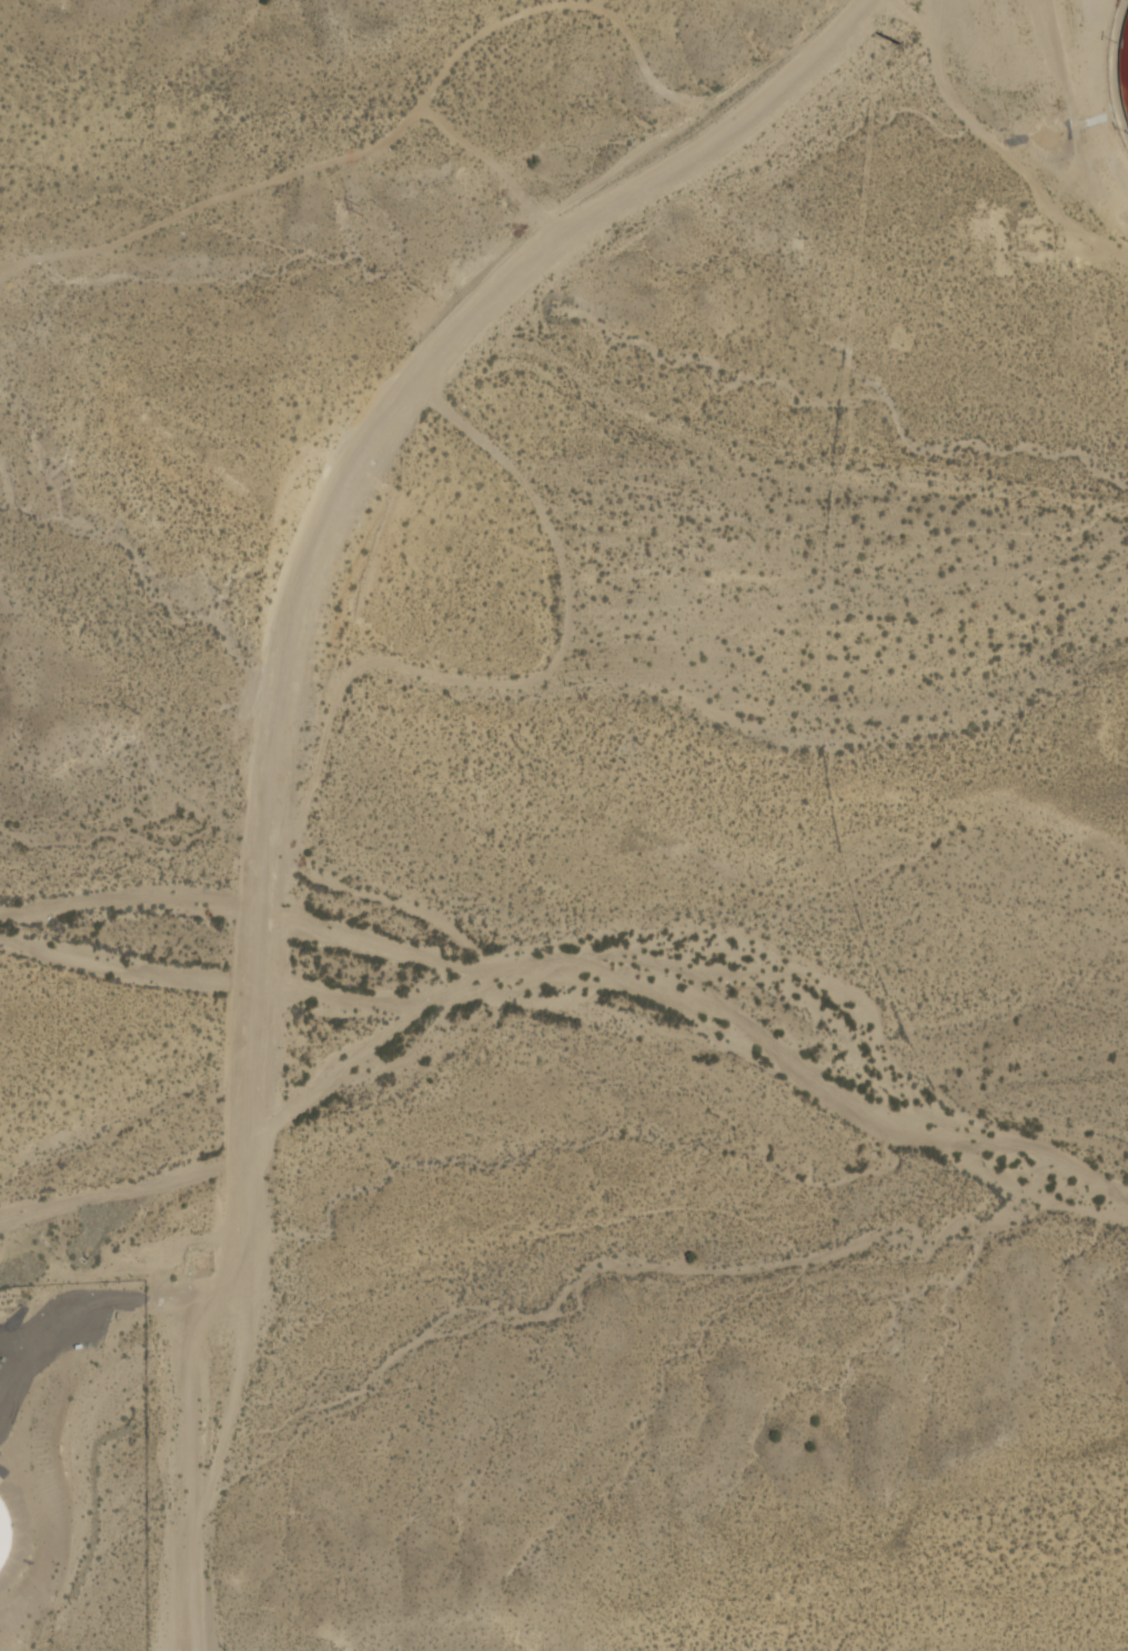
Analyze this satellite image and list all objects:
power tower: (897, 41)
park: (1125, 50)
stadium: (1097, 68)
power tower: (361, 209)
road: (286, 703)
road: (129, 1189)
road: (102, 1300)
road: (189, 1416)
building: (4, 1533)
storage tank: (4, 1533)

